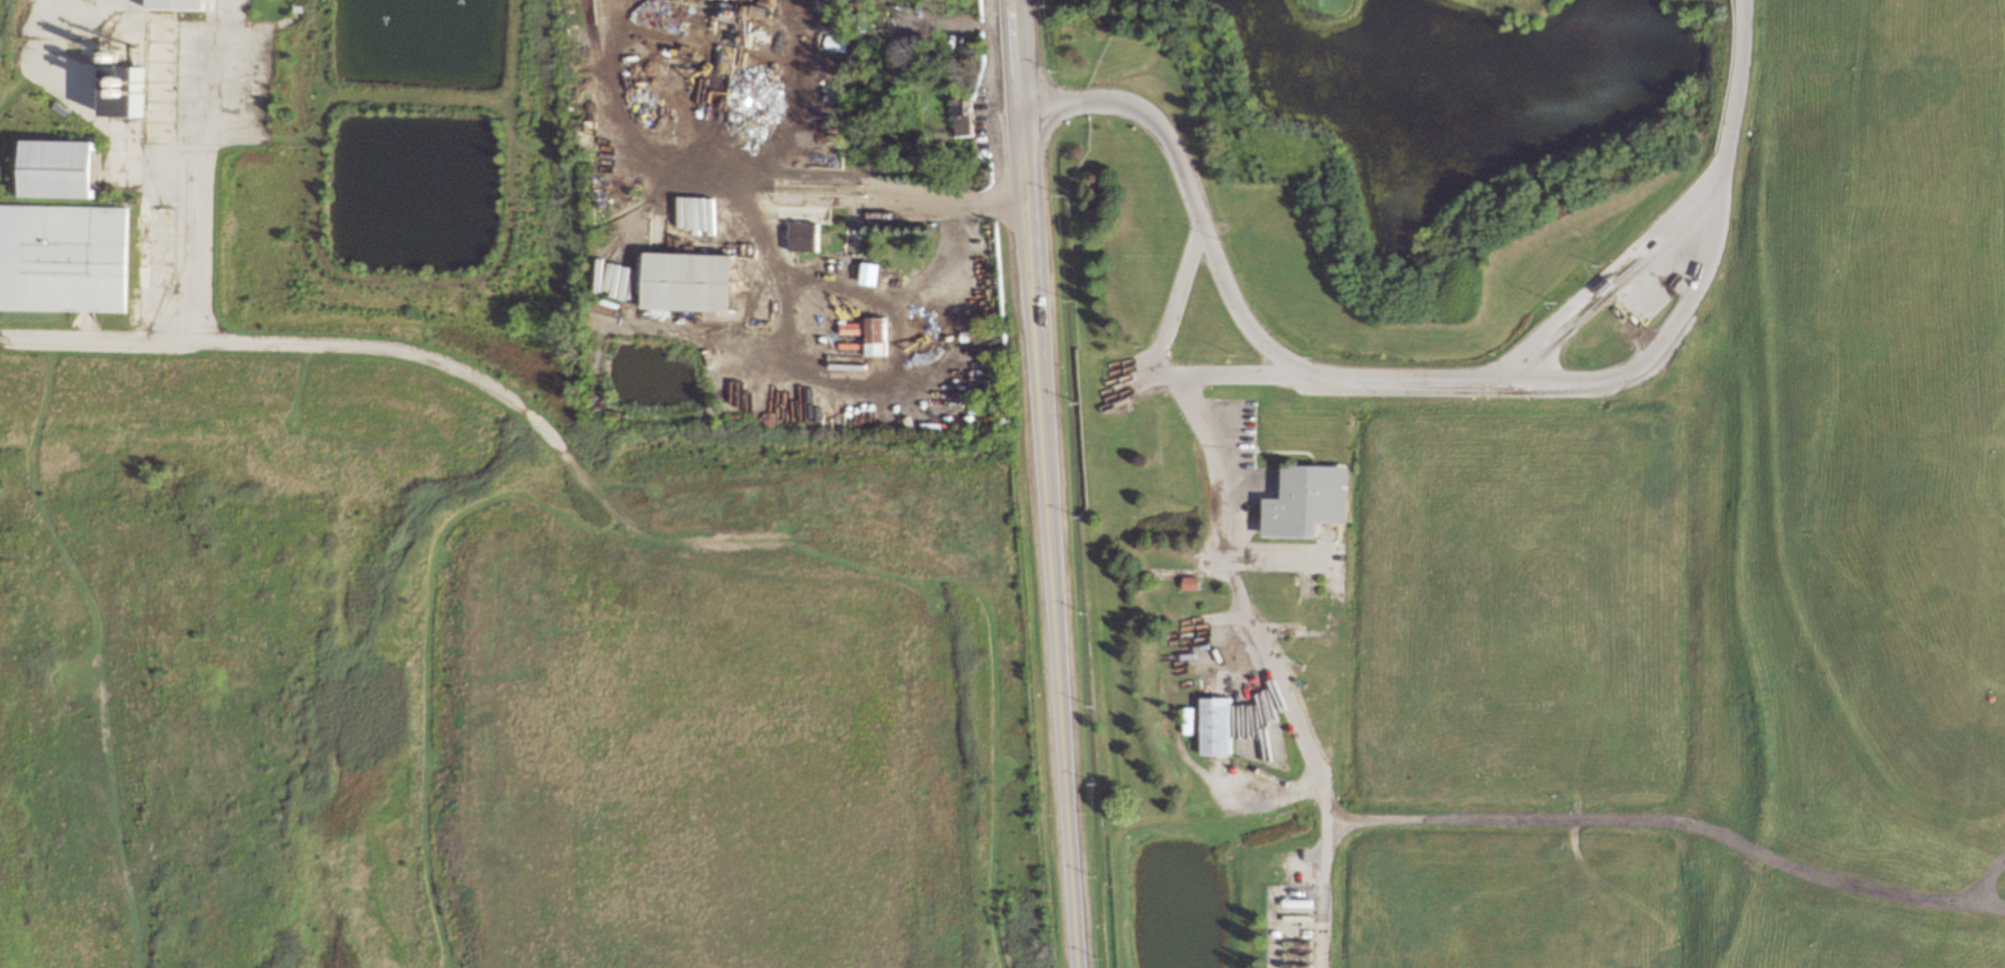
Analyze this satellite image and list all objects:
building: (184, 4)
building: (836, 43)
building: (123, 56)
building: (128, 90)
building: (964, 116)
park: (1418, 144)
building: (67, 171)
road: (1004, 201)
road: (754, 233)
building: (803, 236)
building: (66, 258)
building: (870, 273)
building: (685, 282)
building: (854, 328)
building: (876, 336)
road: (164, 337)
road: (1165, 379)
road: (1449, 383)
road: (1050, 483)
landfill: (1870, 495)
building: (1305, 501)
building: (1192, 582)
road: (1269, 669)
building: (1216, 726)
road: (1678, 820)

